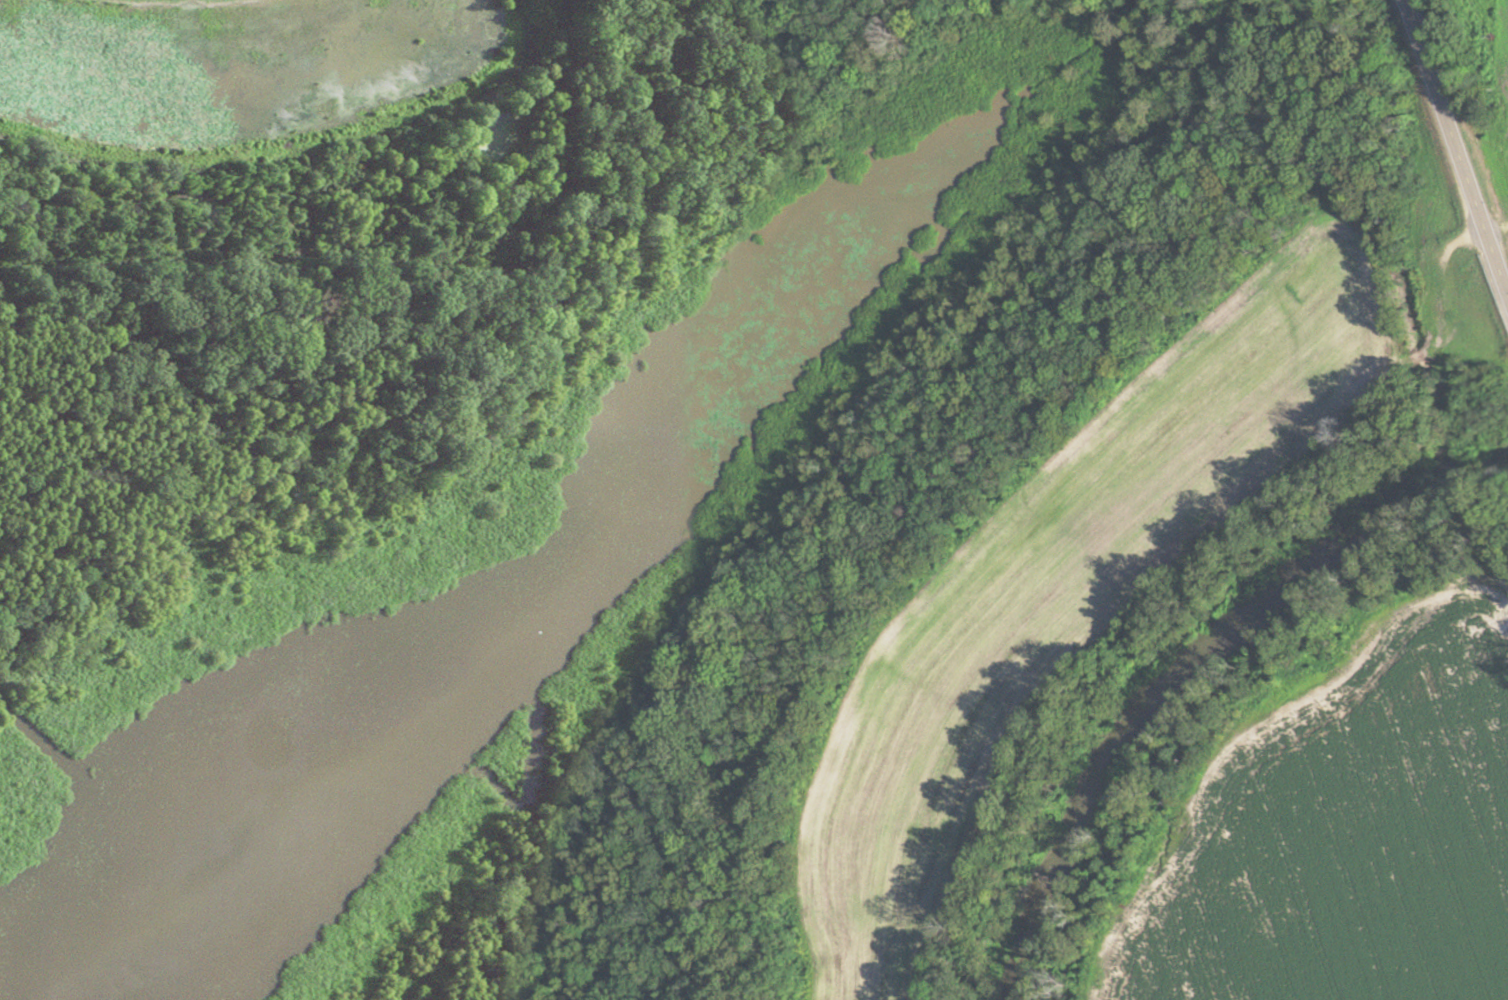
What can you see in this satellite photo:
road: (1457, 147)
road: (1507, 630)
river: (1201, 657)

